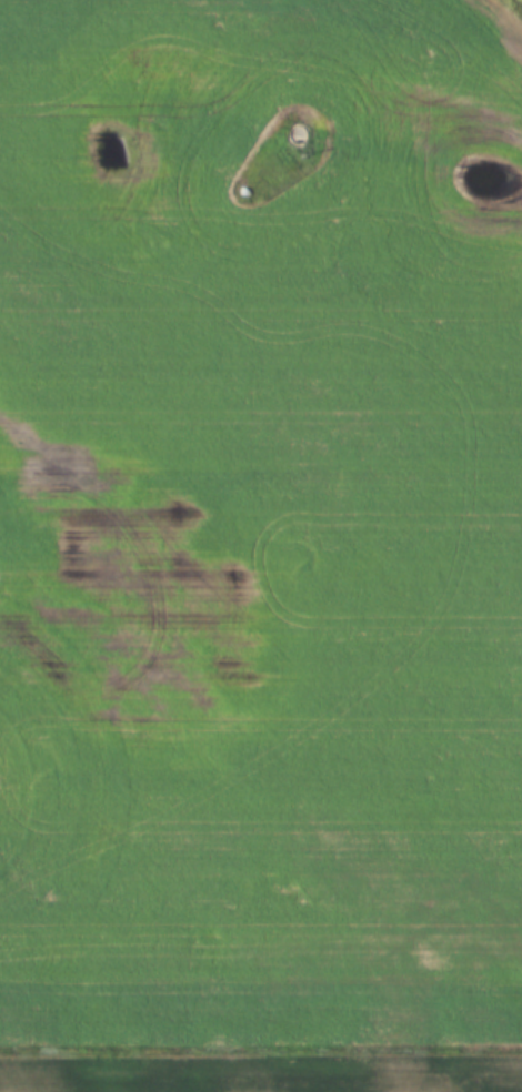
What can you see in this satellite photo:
road: (260, 1055)

